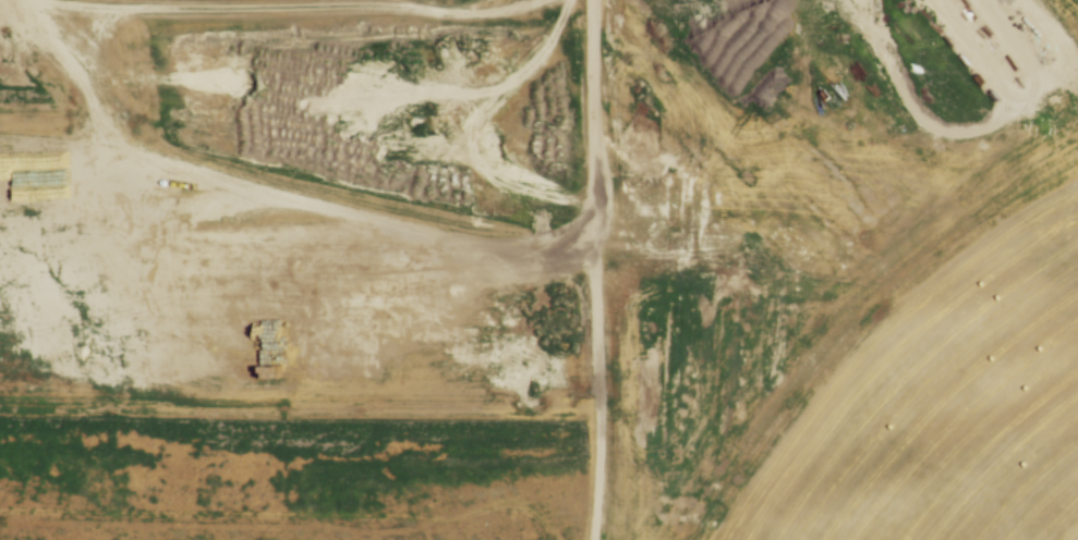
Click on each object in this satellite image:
crop: (1058, 24)
road: (379, 213)
crop: (928, 382)

